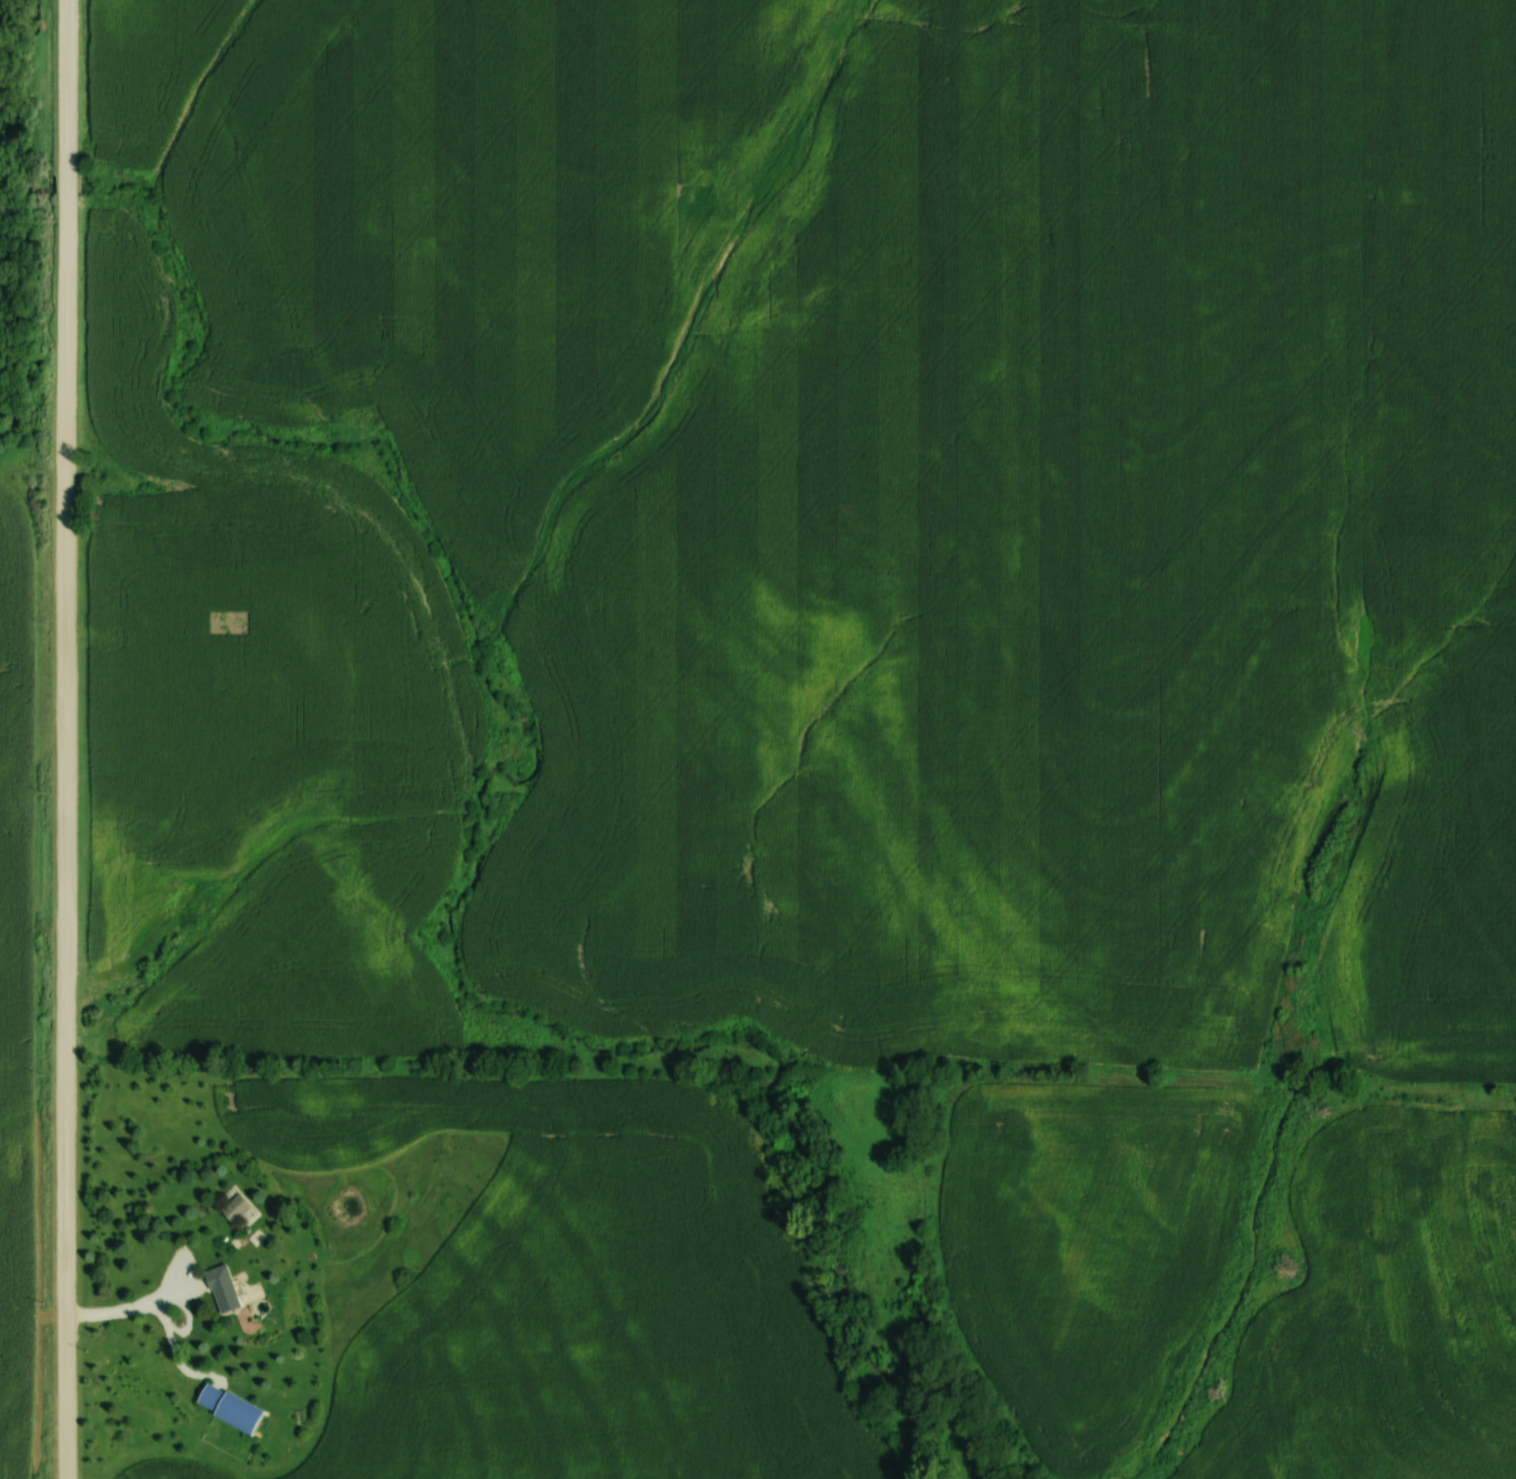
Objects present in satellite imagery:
road: (65, 739)
building: (235, 1208)
building: (221, 1289)
road: (136, 1305)
building: (228, 1408)

